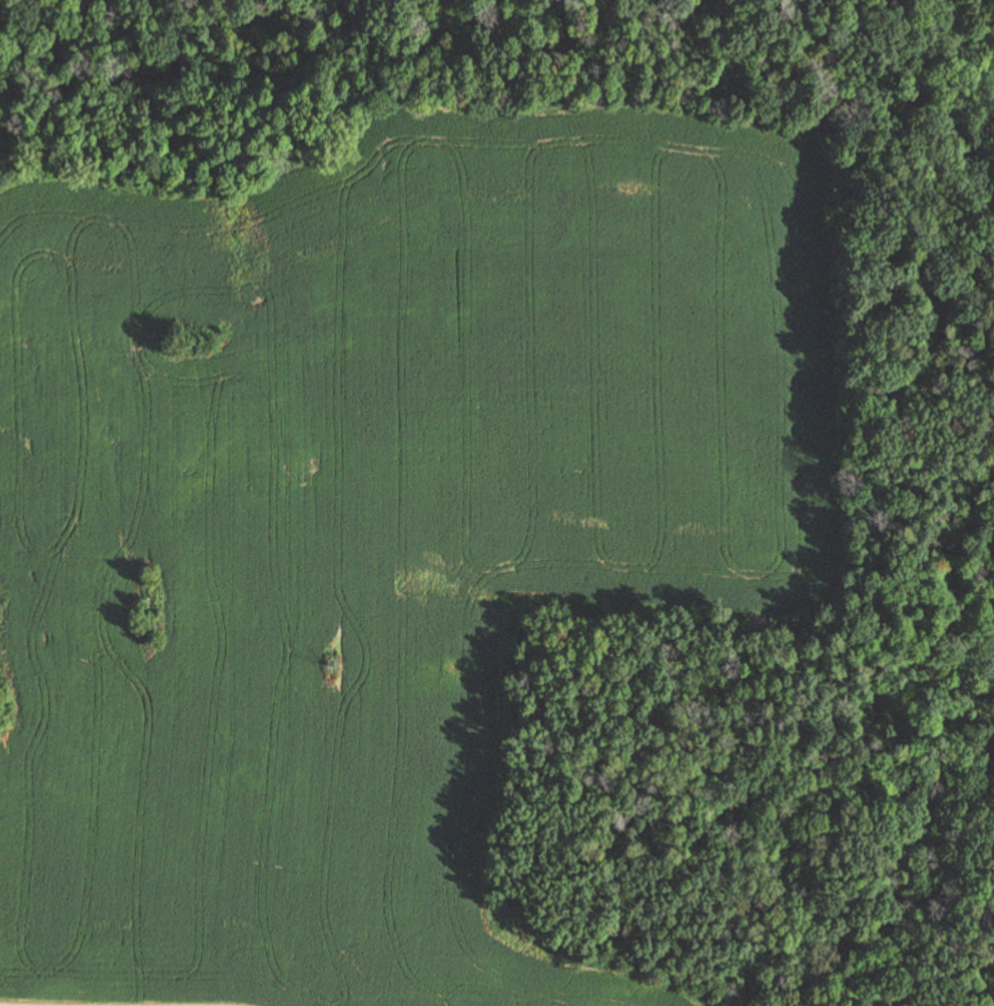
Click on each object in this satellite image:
road: (48, 1004)

